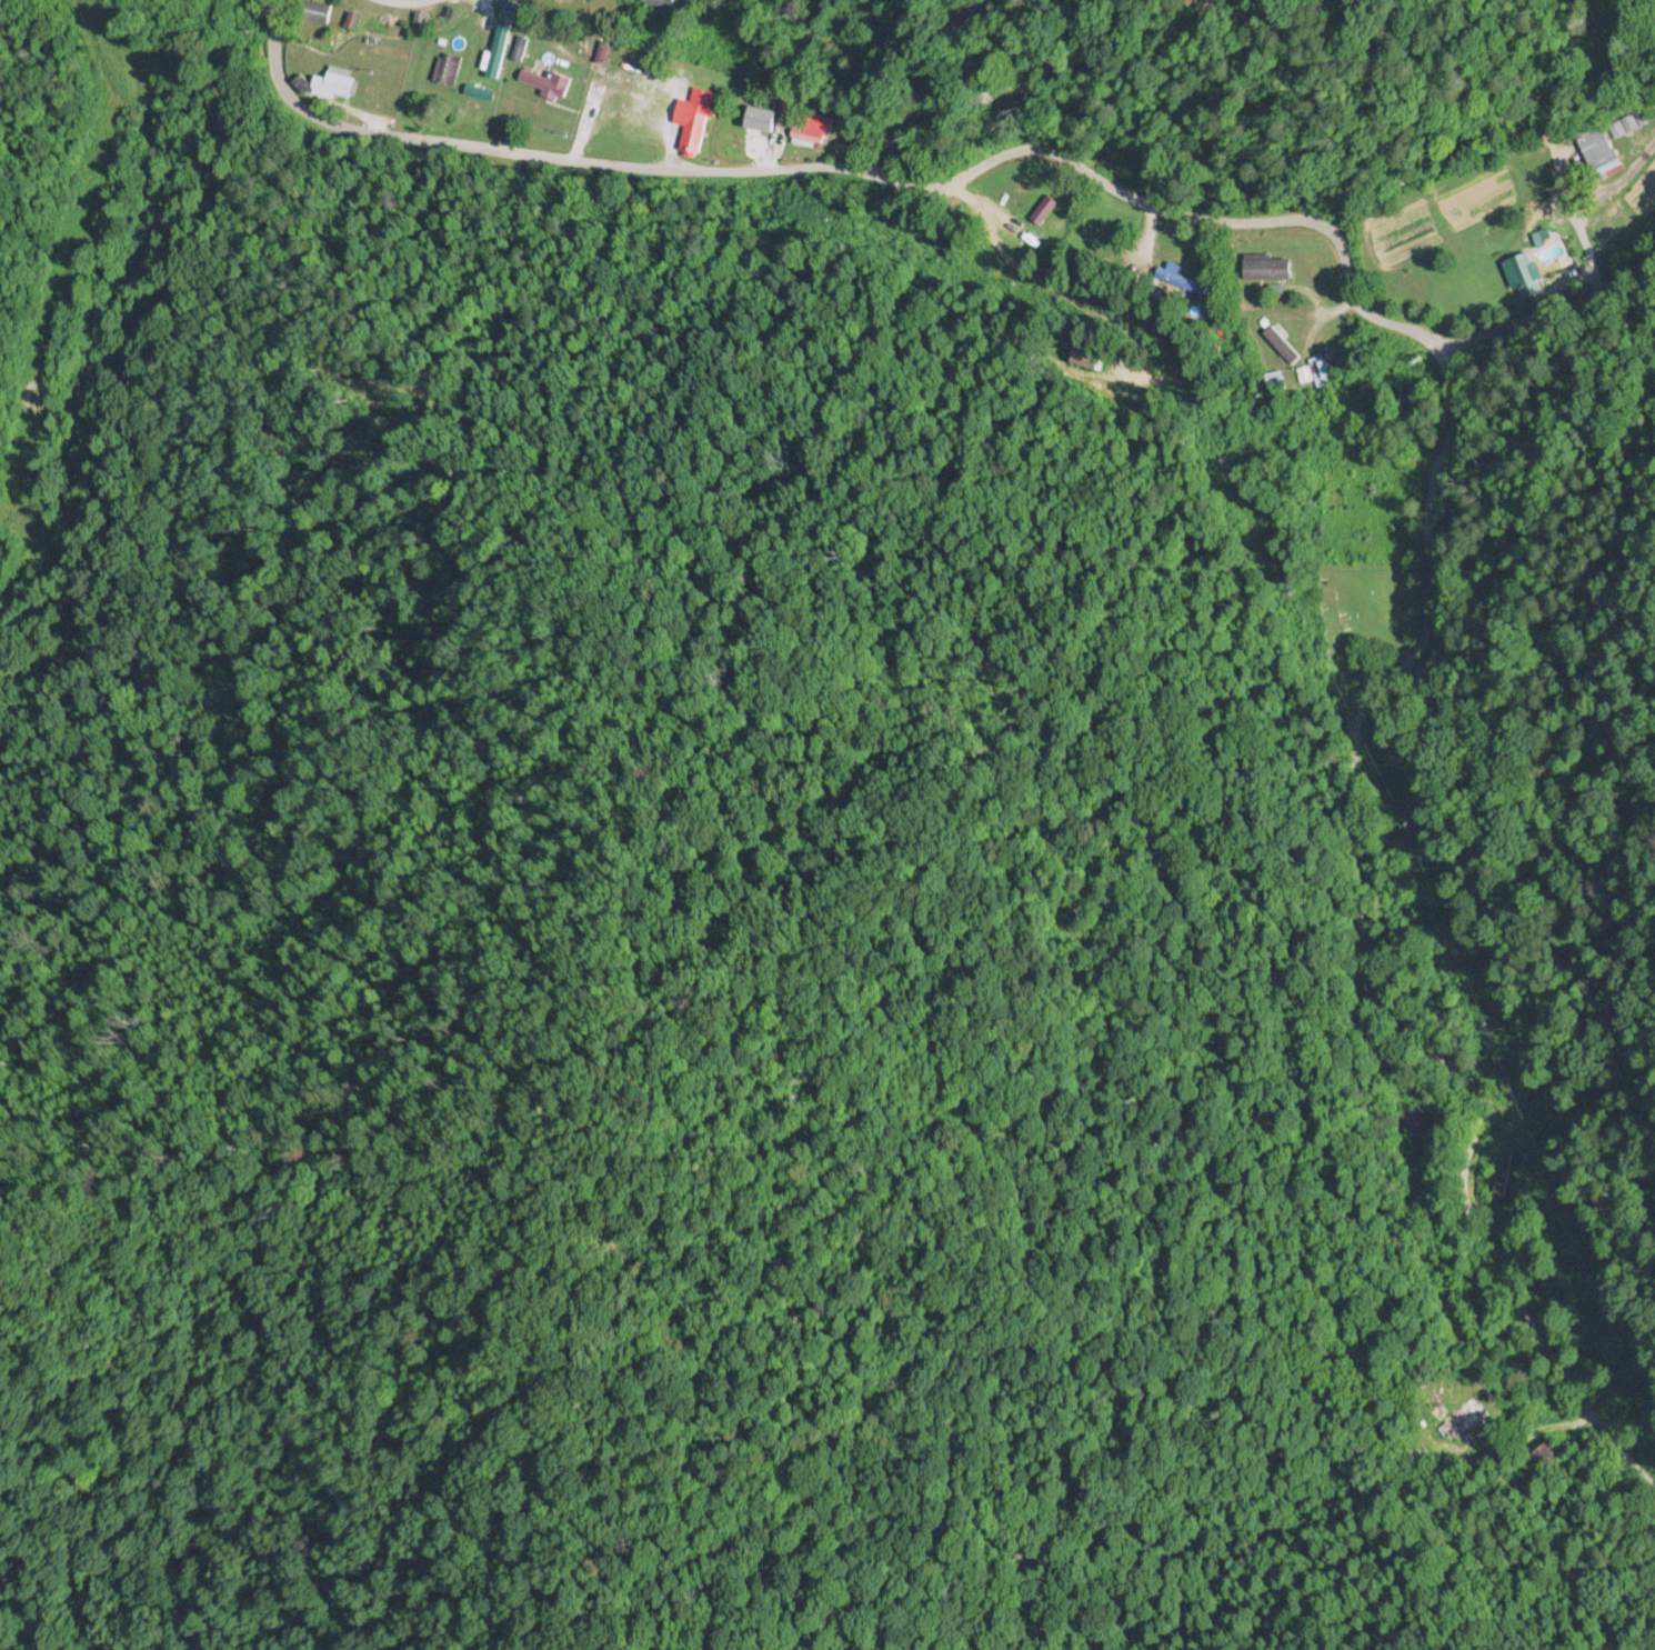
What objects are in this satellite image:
road: (934, 110)
road: (1336, 929)

